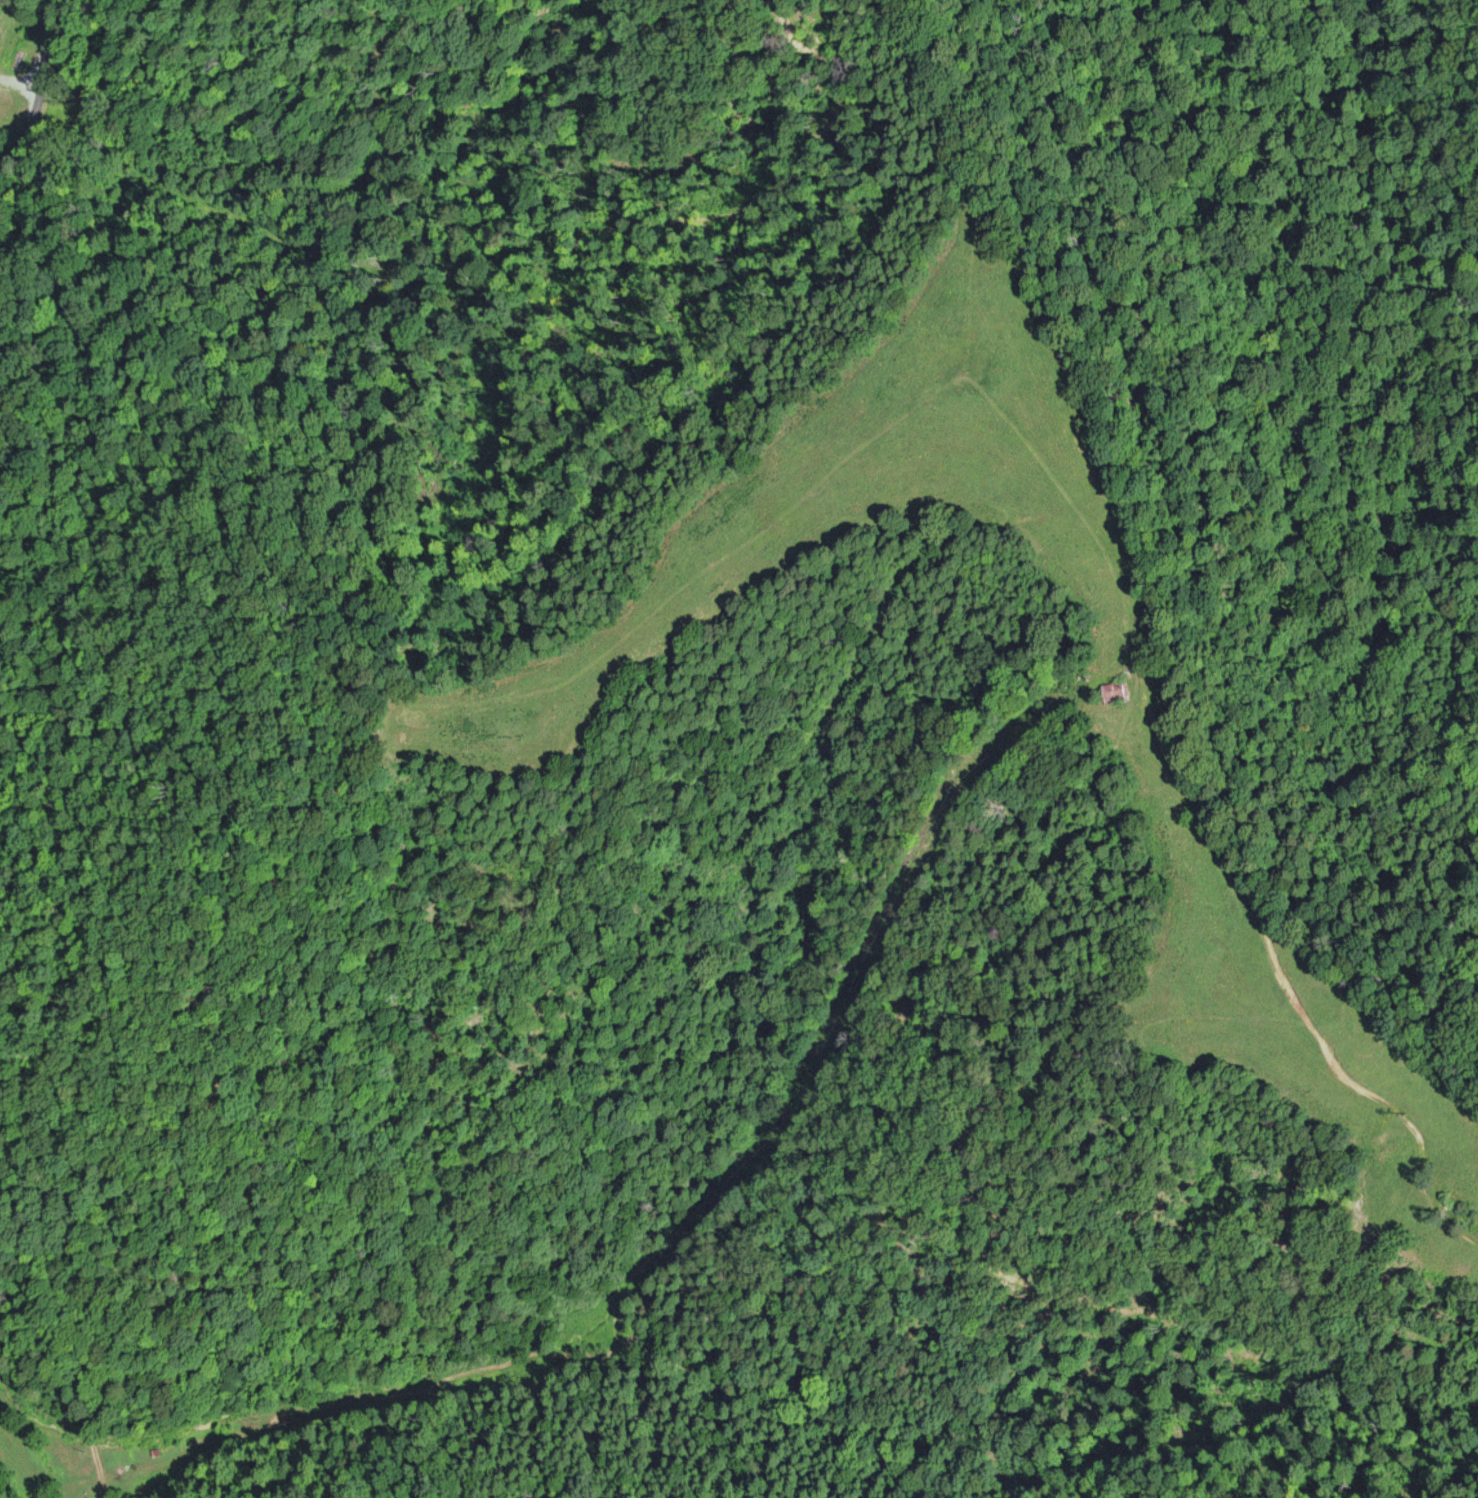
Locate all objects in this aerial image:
road: (61, 120)
building: (1112, 694)
road: (1405, 978)
road: (893, 1066)

